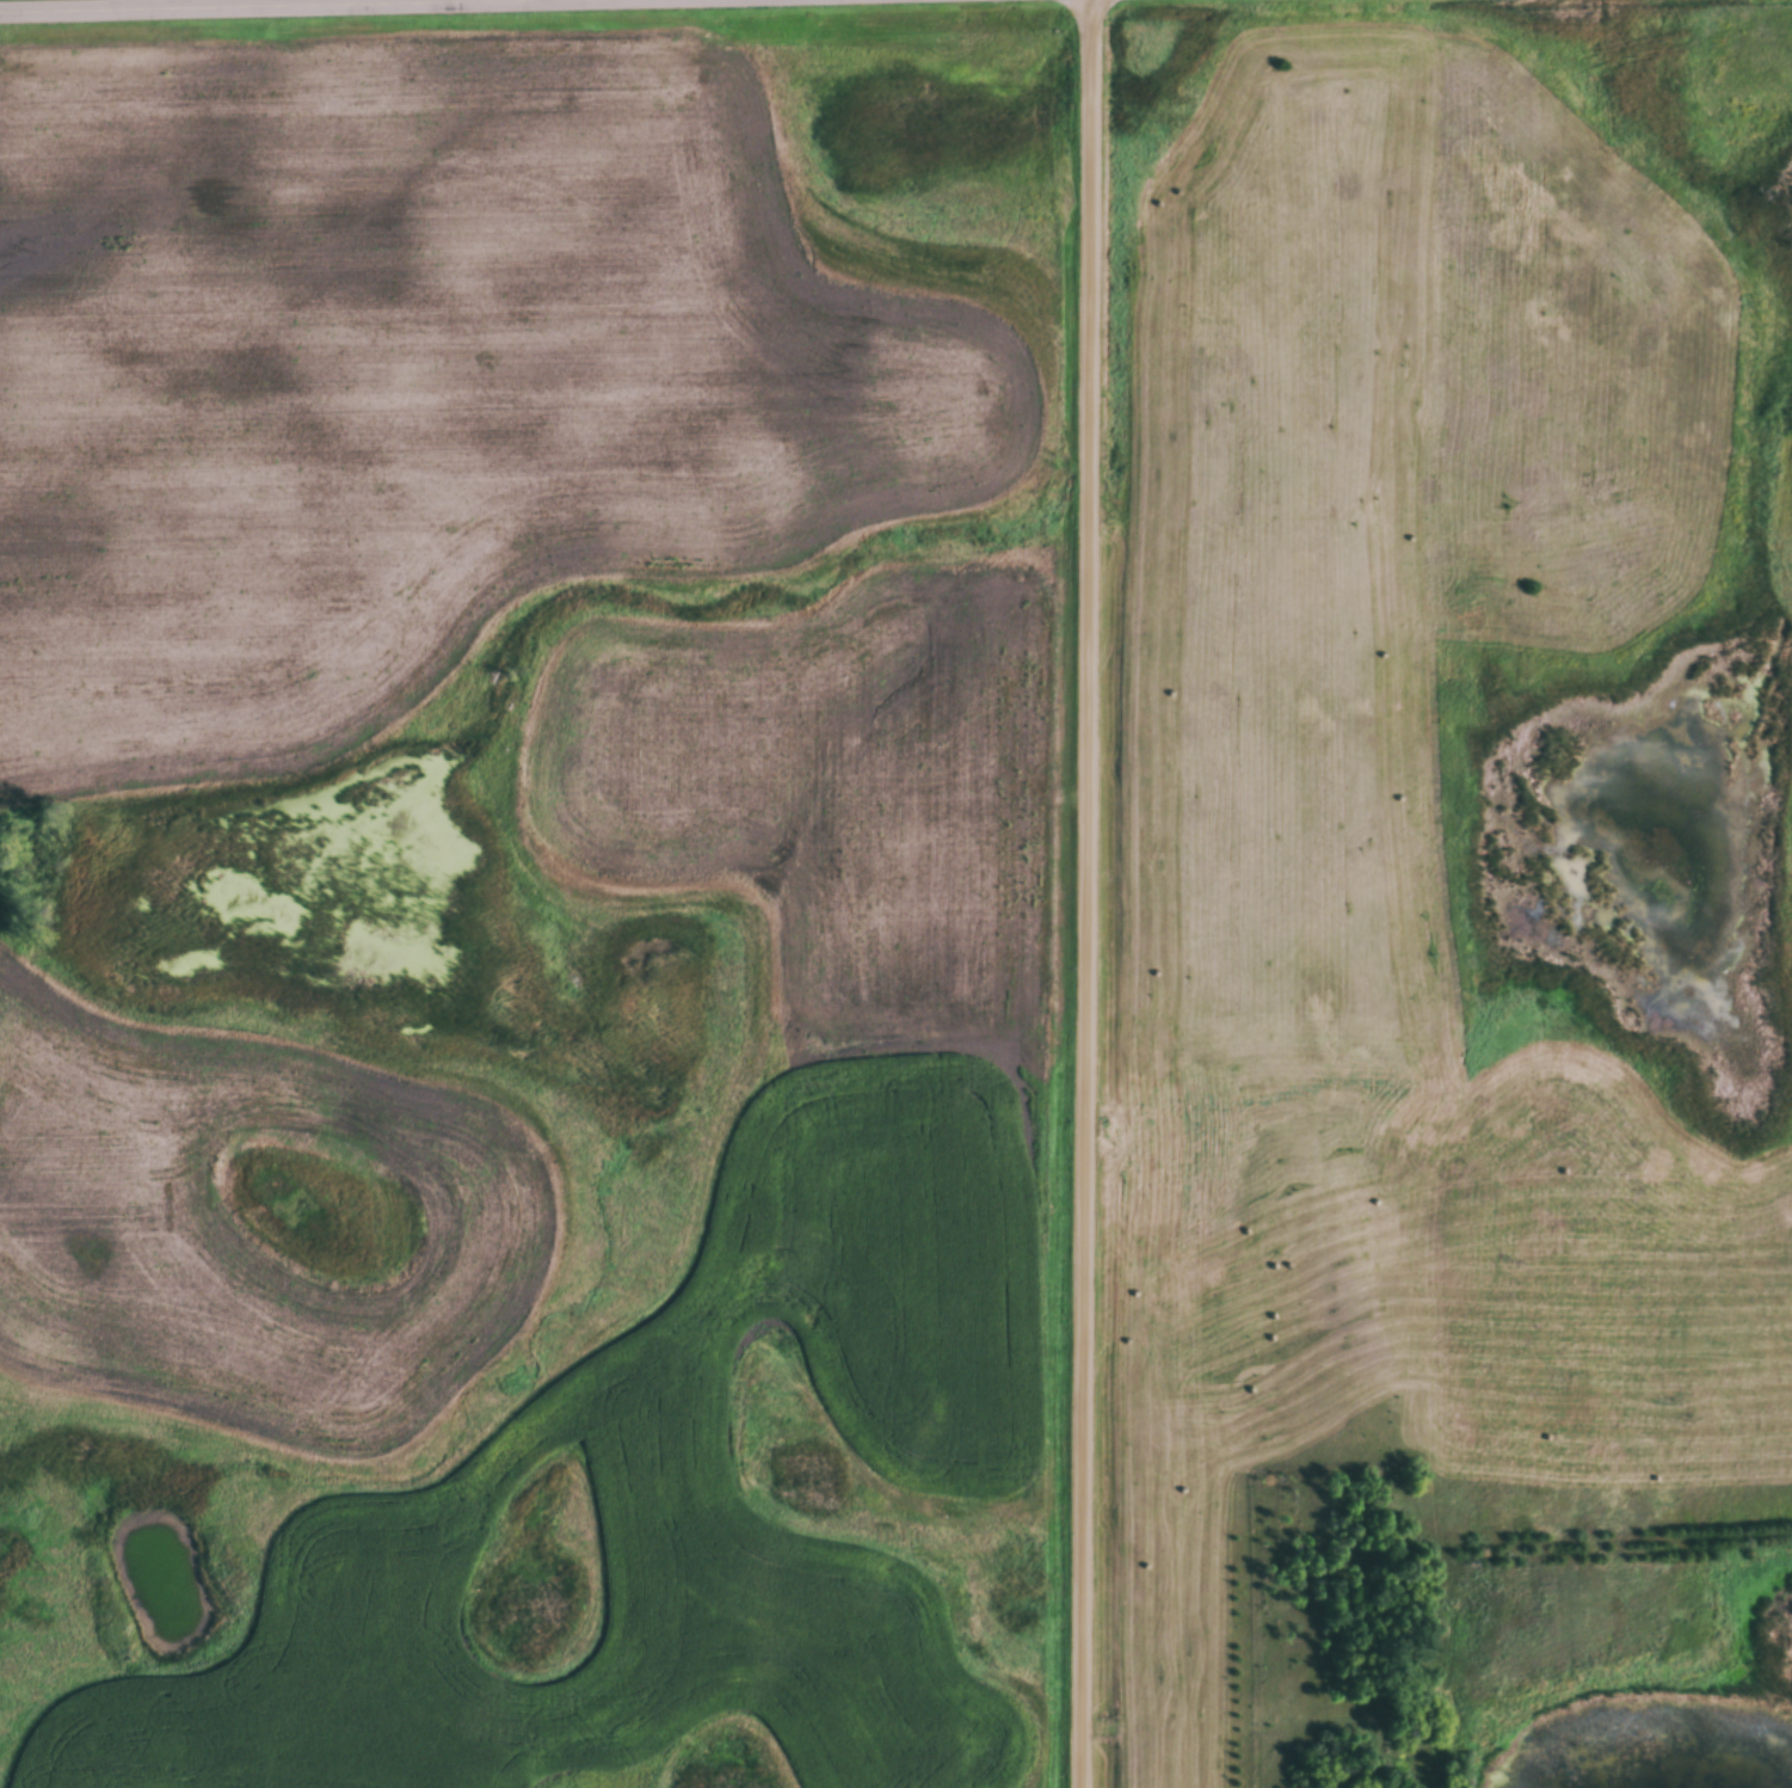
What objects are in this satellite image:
road: (187, 6)
road: (1085, 893)
river: (344, 897)

